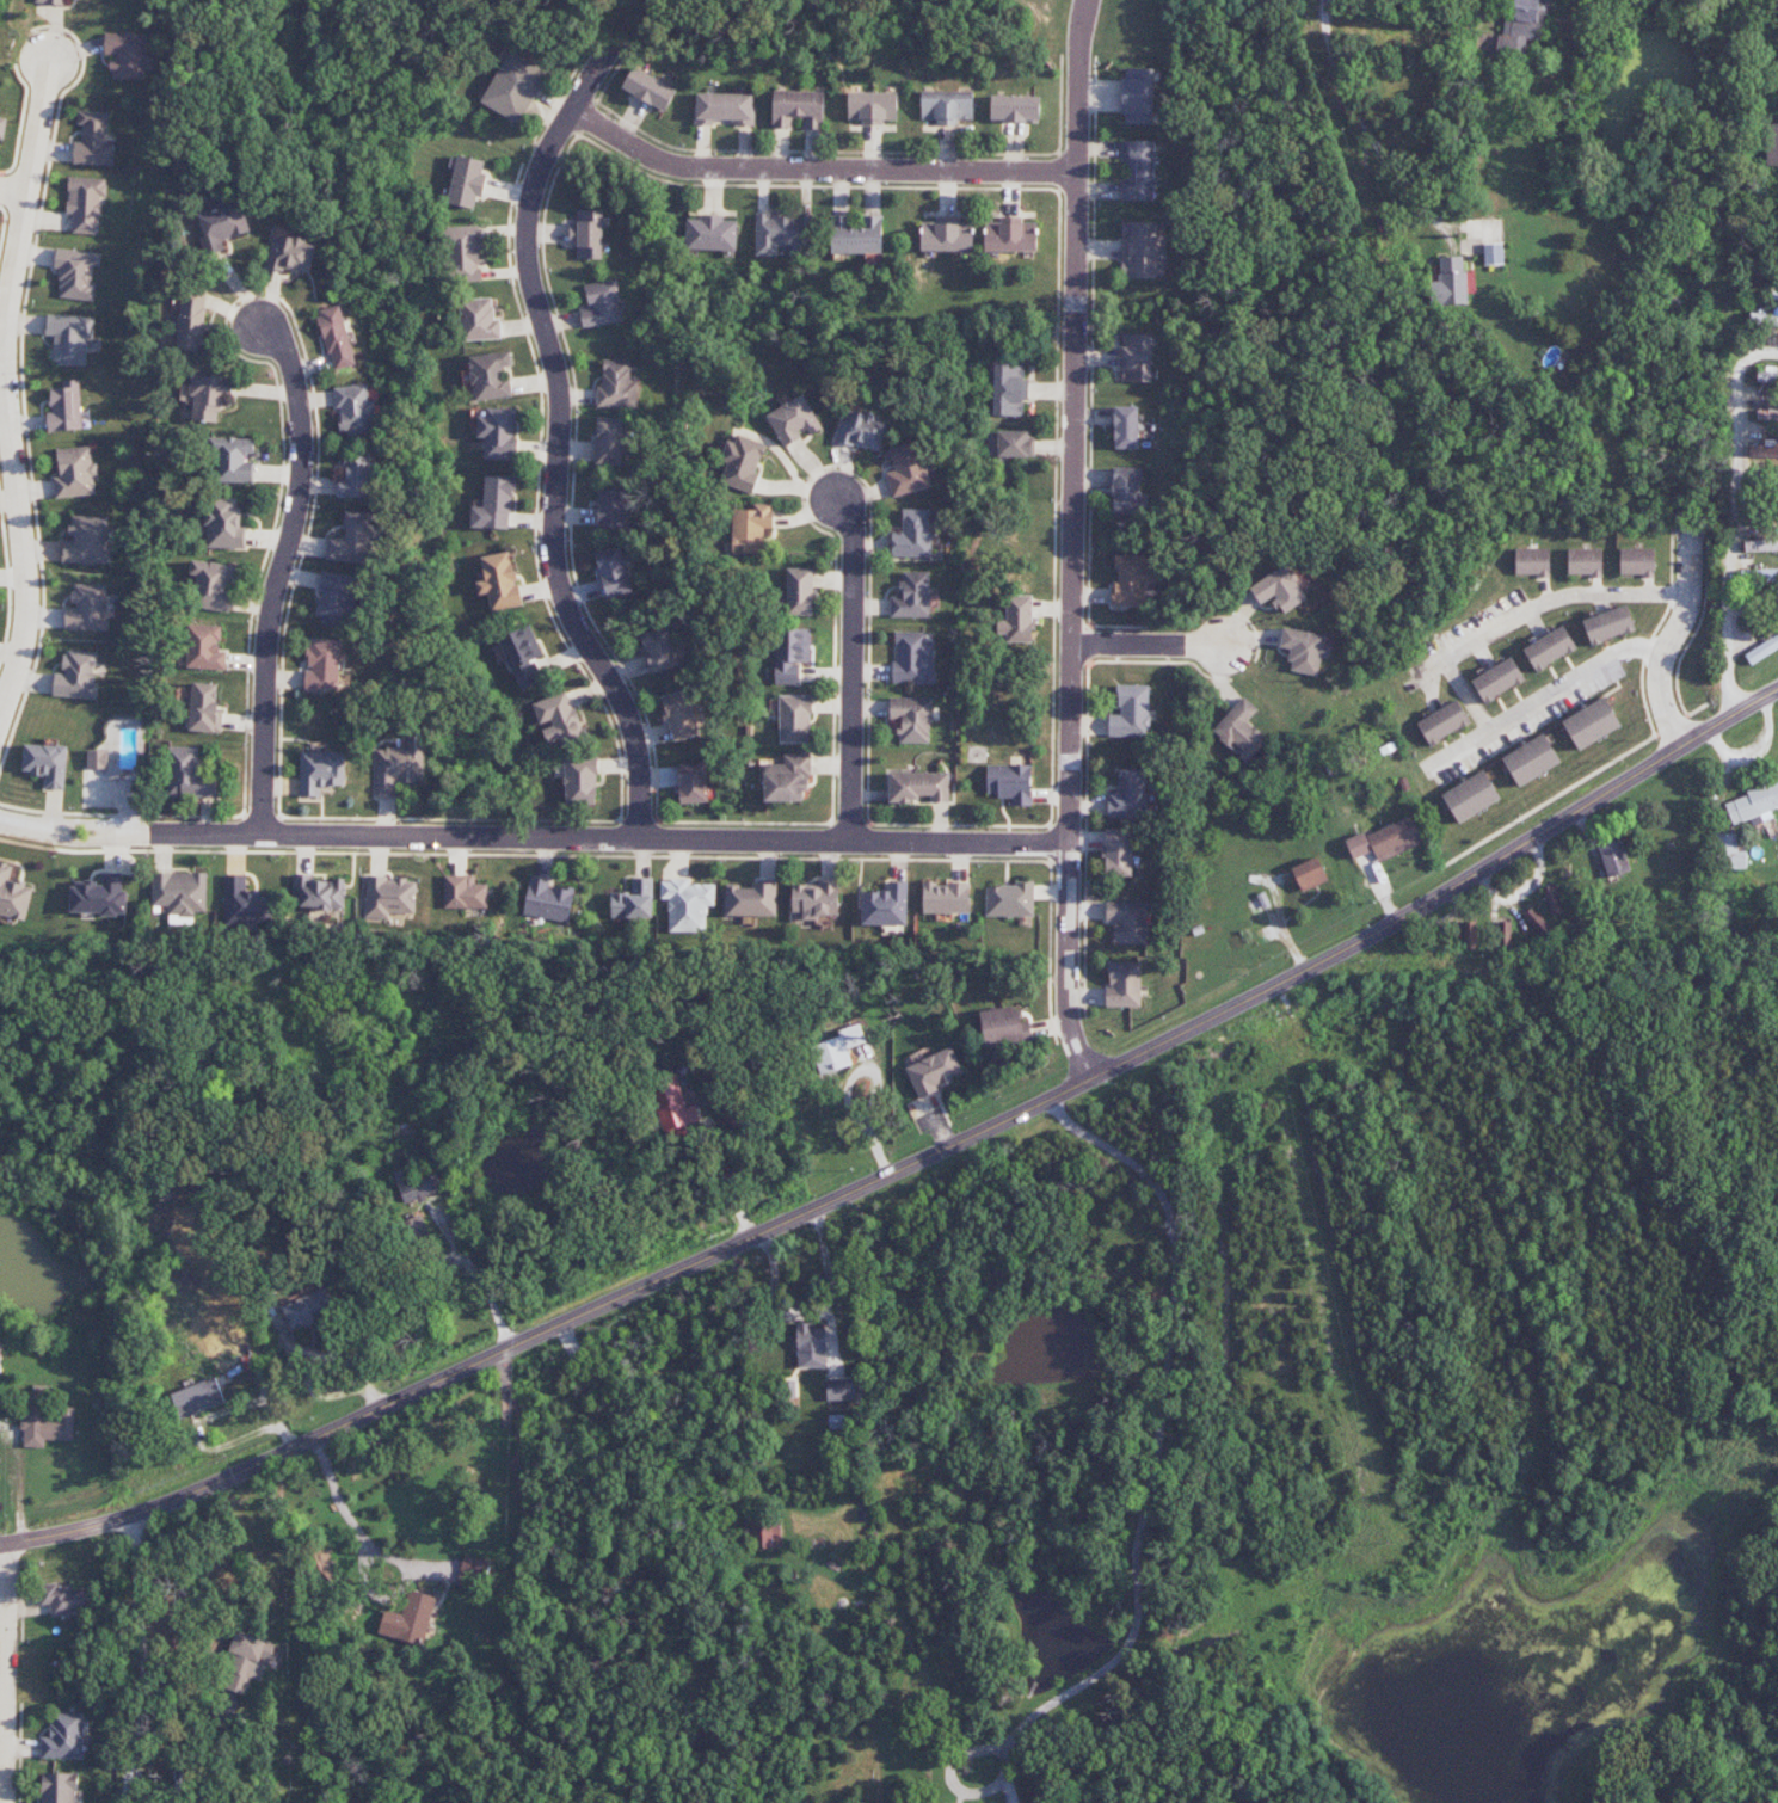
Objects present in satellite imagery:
building: (50, 1)
road: (1477, 17)
building: (1522, 23)
building: (125, 55)
building: (513, 87)
building: (648, 88)
building: (1137, 96)
building: (870, 106)
building: (946, 106)
building: (724, 109)
building: (798, 109)
building: (1014, 109)
building: (1, 127)
road: (1371, 129)
building: (92, 140)
building: (1772, 144)
building: (1138, 170)
road: (814, 171)
building: (467, 181)
road: (13, 190)
building: (85, 203)
building: (587, 234)
building: (712, 234)
building: (782, 234)
building: (855, 235)
building: (947, 235)
building: (1010, 235)
building: (1142, 250)
building: (291, 253)
building: (1493, 253)
building: (465, 254)
building: (75, 273)
building: (1451, 279)
building: (602, 304)
building: (191, 318)
building: (479, 320)
building: (1762, 320)
building: (70, 338)
building: (336, 338)
building: (1136, 357)
building: (490, 376)
building: (1766, 376)
building: (616, 384)
road: (5, 386)
building: (1009, 389)
building: (210, 396)
building: (66, 407)
building: (355, 411)
building: (1768, 413)
building: (793, 420)
building: (1126, 427)
building: (862, 430)
building: (498, 432)
road: (555, 436)
building: (609, 441)
building: (1009, 444)
building: (1764, 450)
building: (232, 460)
building: (742, 463)
building: (75, 473)
building: (357, 478)
building: (1126, 491)
building: (493, 504)
building: (611, 507)
road: (1734, 521)
building: (224, 524)
building: (751, 529)
building: (912, 535)
road: (1072, 537)
building: (353, 540)
building: (86, 541)
building: (1761, 546)
building: (1532, 561)
building: (1585, 561)
building: (1636, 561)
building: (613, 572)
road: (282, 576)
building: (1759, 576)
building: (498, 580)
building: (1130, 581)
building: (1279, 590)
building: (799, 591)
building: (912, 596)
building: (336, 598)
road: (1543, 603)
building: (87, 608)
building: (1017, 619)
building: (1608, 624)
road: (1672, 641)
road: (1146, 646)
building: (205, 647)
building: (1549, 648)
building: (1761, 648)
building: (659, 650)
building: (1304, 650)
building: (790, 654)
building: (523, 657)
building: (912, 658)
building: (322, 665)
road: (849, 666)
building: (75, 675)
building: (1497, 679)
road: (1542, 695)
road: (1468, 696)
building: (203, 707)
building: (1131, 712)
building: (678, 715)
building: (794, 719)
building: (911, 719)
building: (559, 720)
building: (1442, 722)
building: (1591, 724)
building: (1241, 731)
building: (97, 759)
building: (1531, 759)
building: (47, 763)
building: (399, 764)
building: (321, 771)
building: (187, 774)
building: (786, 777)
building: (580, 781)
building: (691, 782)
building: (1010, 782)
building: (919, 787)
building: (1128, 795)
building: (1471, 796)
building: (1752, 805)
road: (74, 832)
road: (611, 836)
building: (1385, 841)
building: (1119, 853)
building: (1731, 853)
building: (1613, 857)
building: (1309, 874)
building: (463, 892)
building: (179, 894)
building: (320, 894)
building: (13, 896)
building: (98, 896)
building: (389, 897)
building: (946, 898)
building: (751, 899)
building: (814, 899)
building: (1009, 899)
building: (1551, 899)
building: (547, 900)
building: (634, 900)
building: (245, 903)
building: (687, 904)
building: (886, 905)
building: (1536, 919)
building: (1127, 922)
building: (1507, 934)
building: (1122, 985)
building: (1004, 1027)
building: (839, 1047)
building: (935, 1071)
road: (875, 1087)
building: (673, 1108)
road: (909, 1164)
road: (730, 1180)
building: (416, 1187)
building: (416, 1227)
road: (828, 1287)
building: (307, 1309)
building: (811, 1346)
building: (839, 1389)
building: (197, 1398)
building: (45, 1424)
road: (1143, 1510)
road: (393, 1531)
building: (762, 1532)
building: (469, 1571)
building: (67, 1598)
building: (408, 1618)
road: (140, 1661)
building: (245, 1663)
road: (6, 1672)
building: (64, 1737)
building: (59, 1787)

